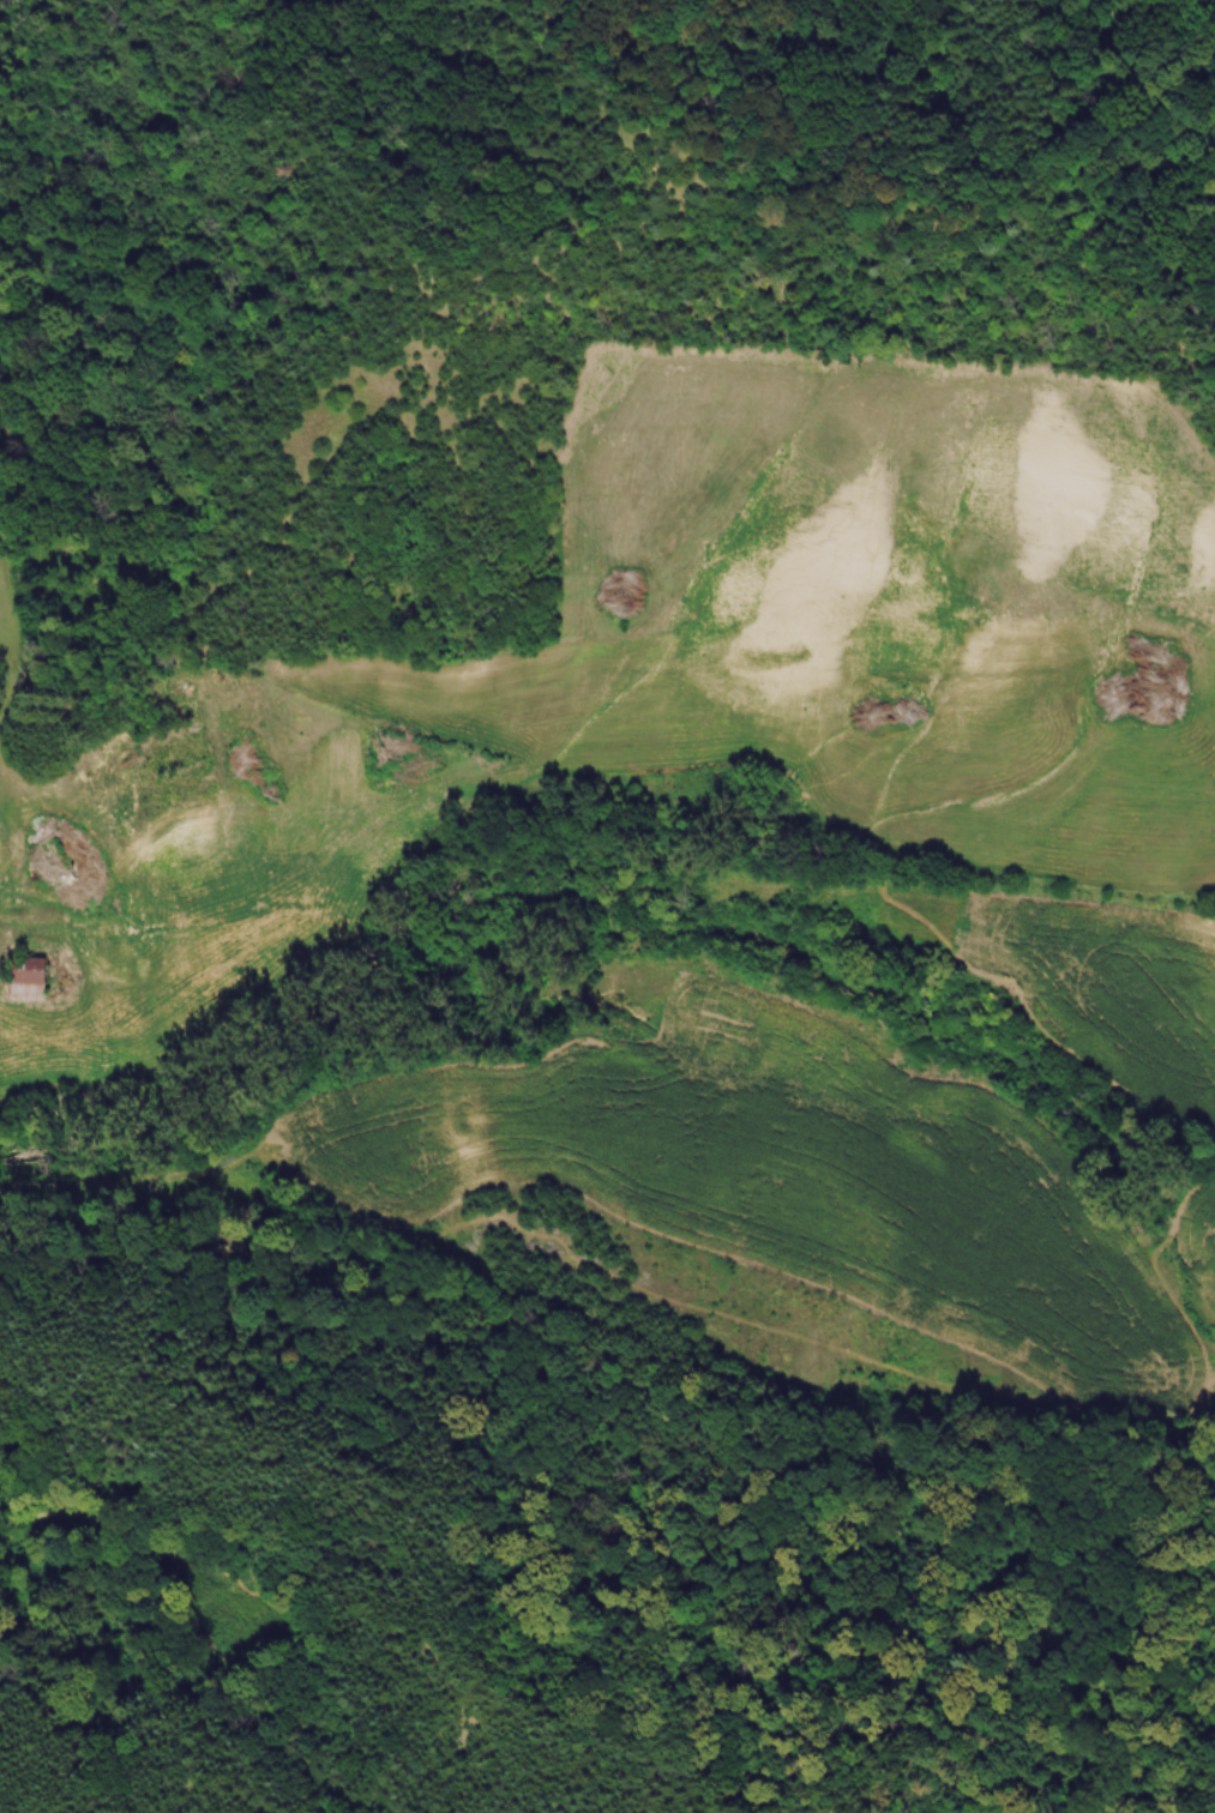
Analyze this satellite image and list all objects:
building: (191, 865)
building: (29, 981)
building: (106, 1071)

